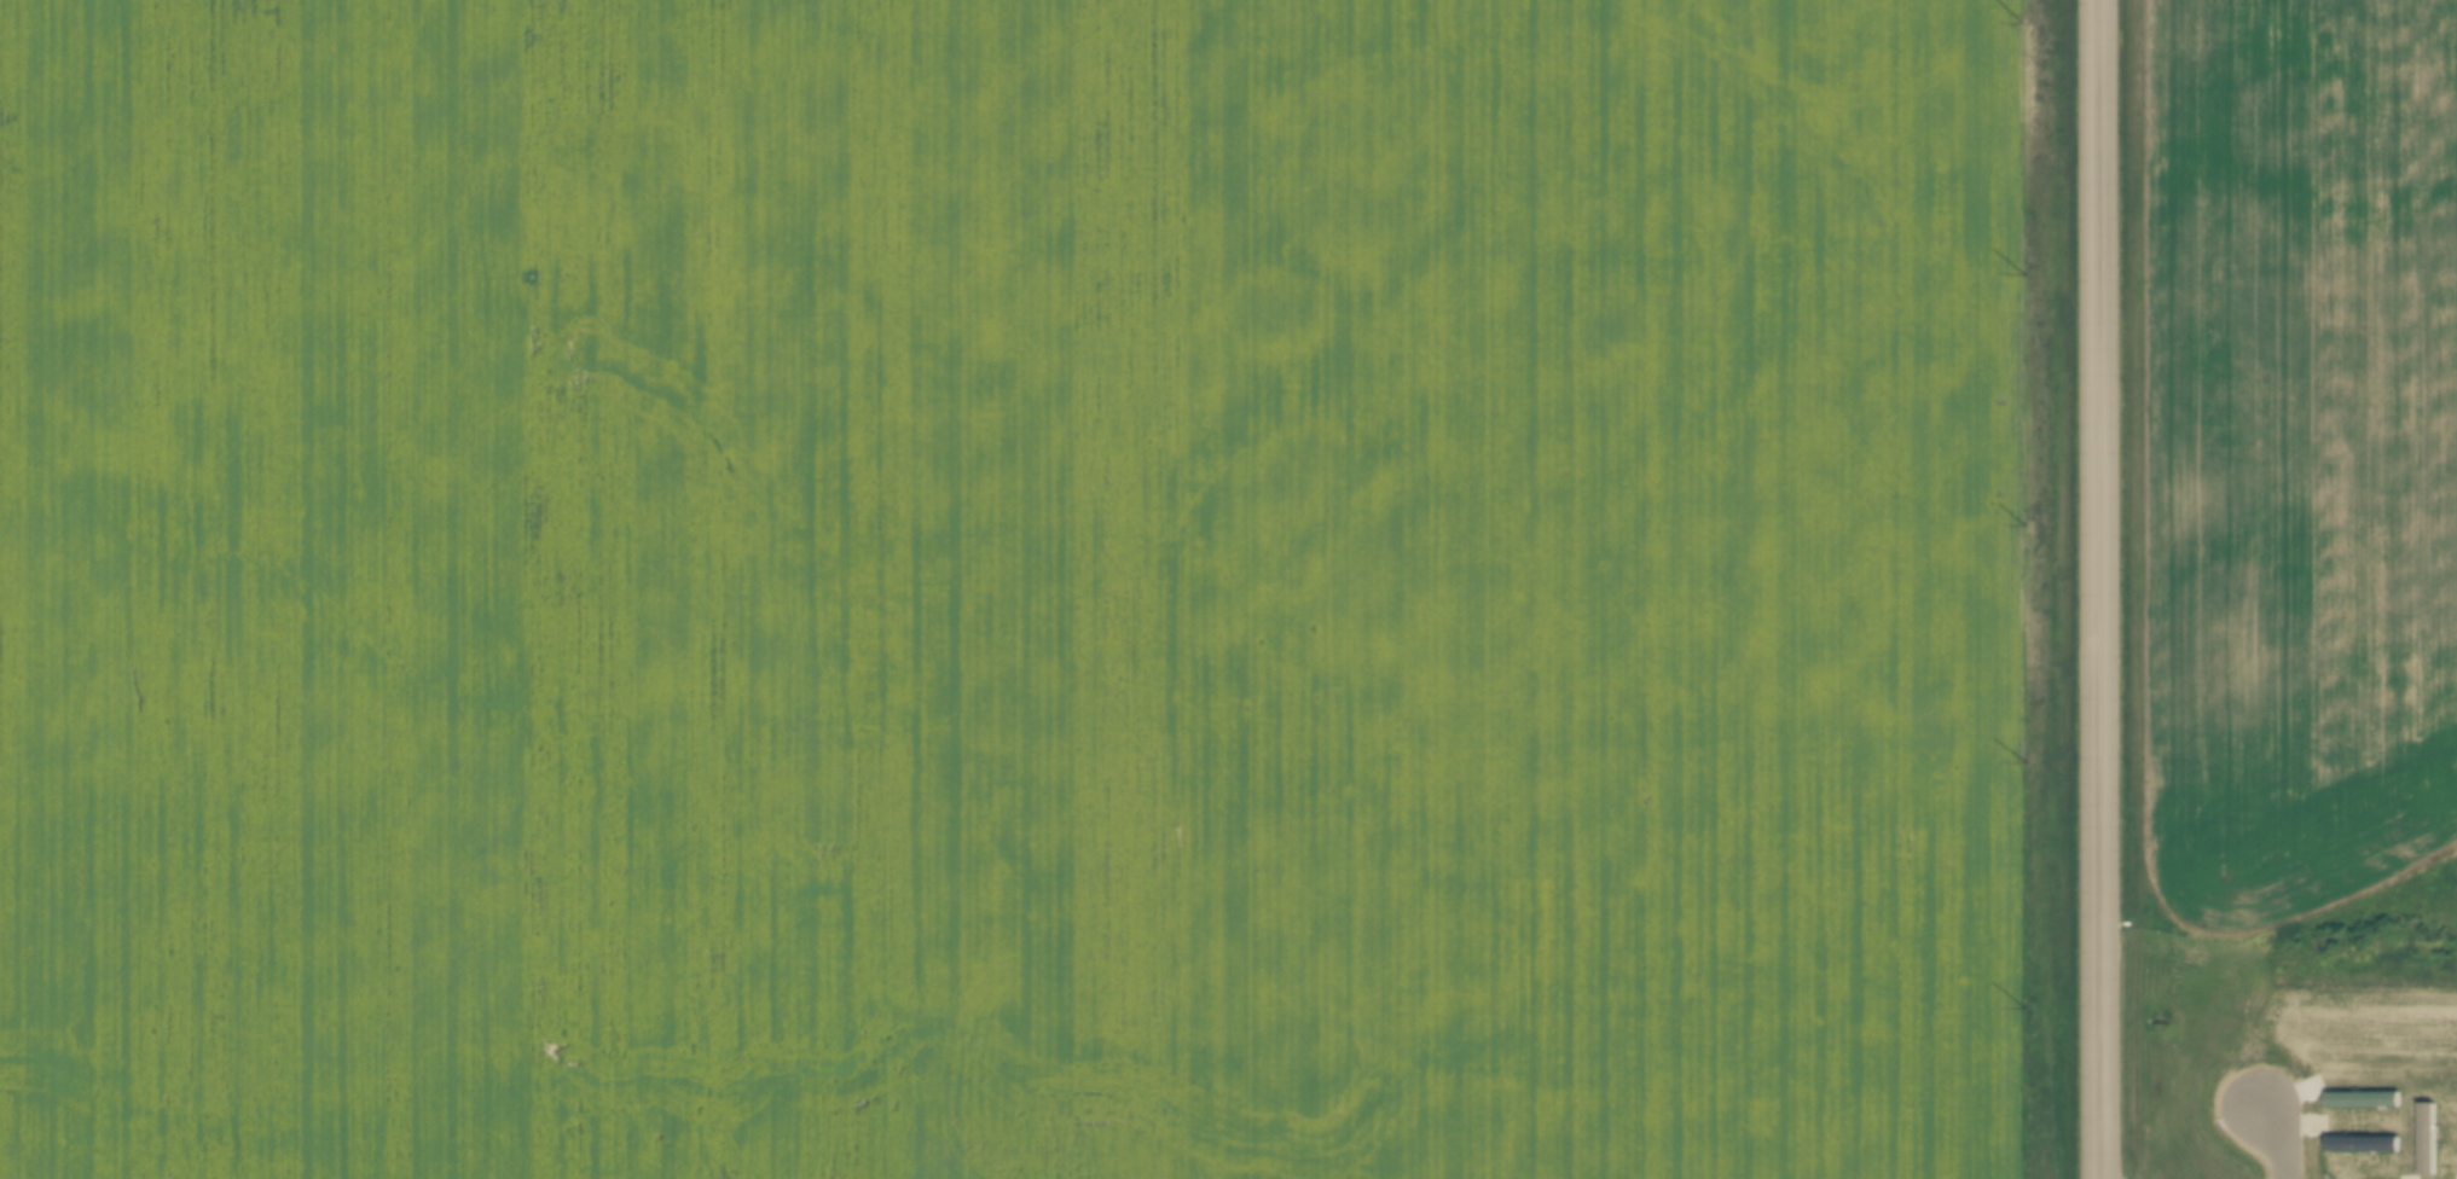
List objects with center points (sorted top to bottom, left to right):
road: (2098, 588)
building: (2360, 1105)
road: (2275, 1138)
building: (2423, 1143)
building: (2359, 1150)

